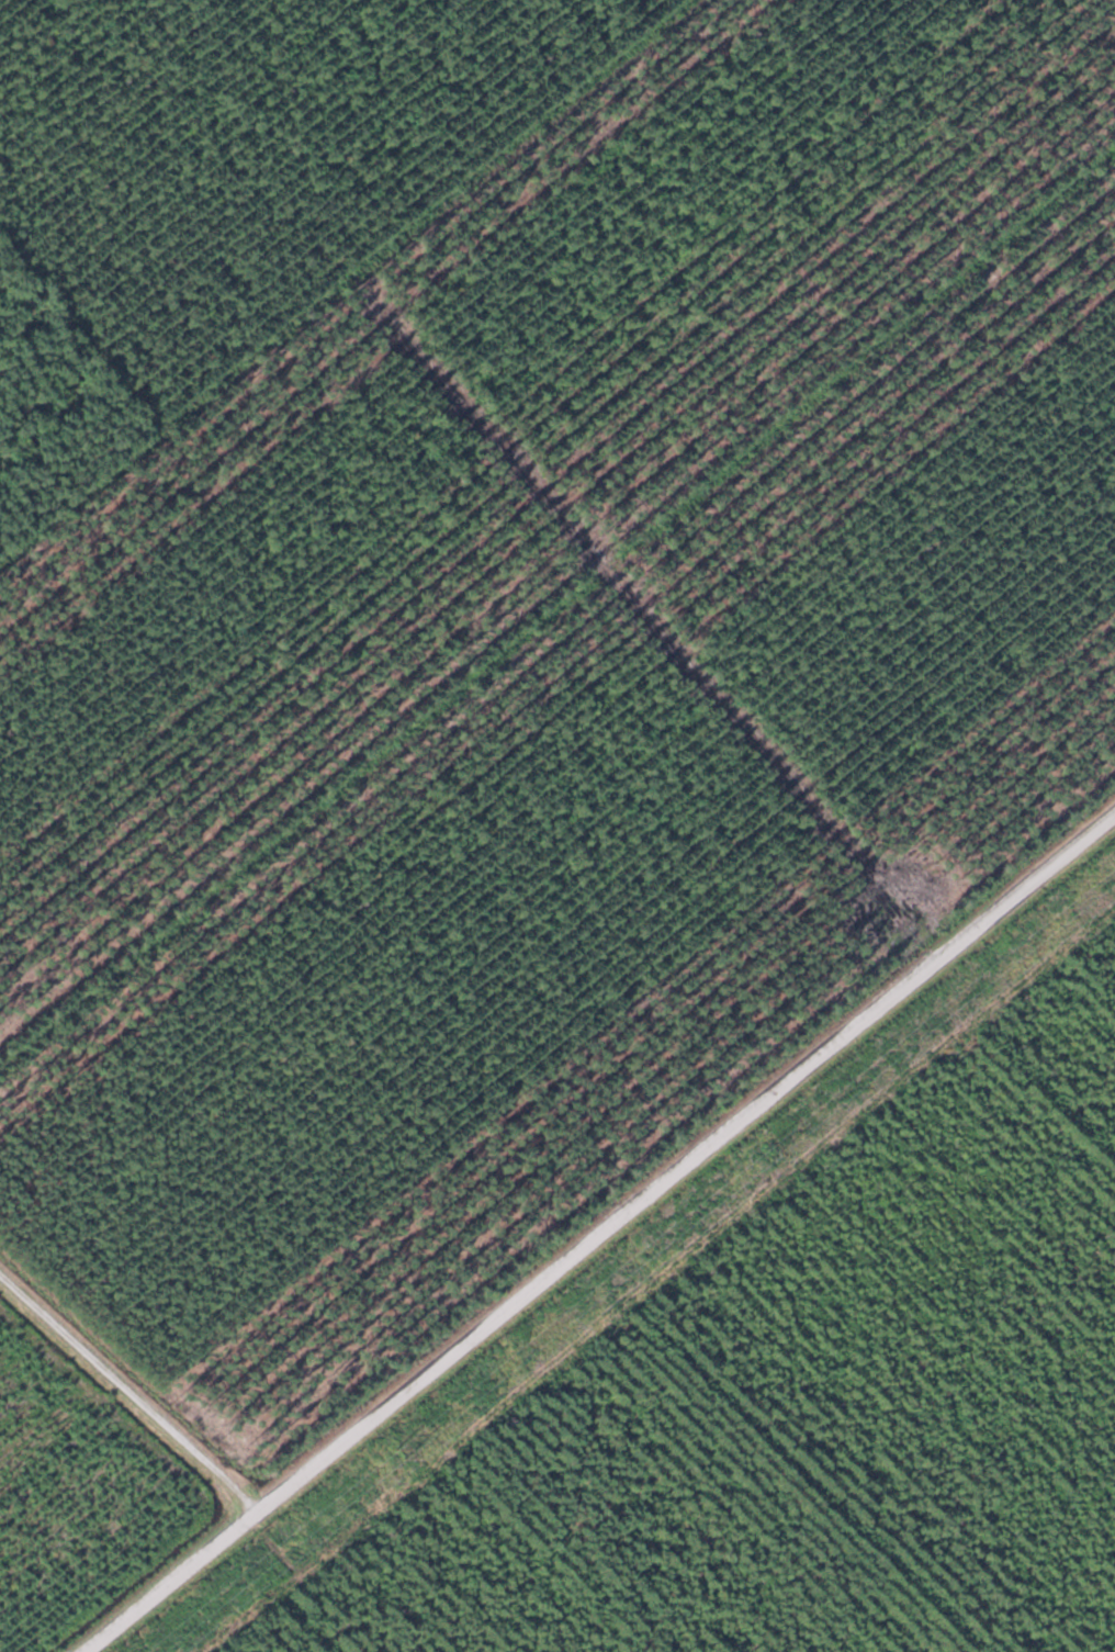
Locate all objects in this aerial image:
power tower: (784, 1149)
road: (600, 1234)
road: (129, 1395)
power tower: (406, 1452)

